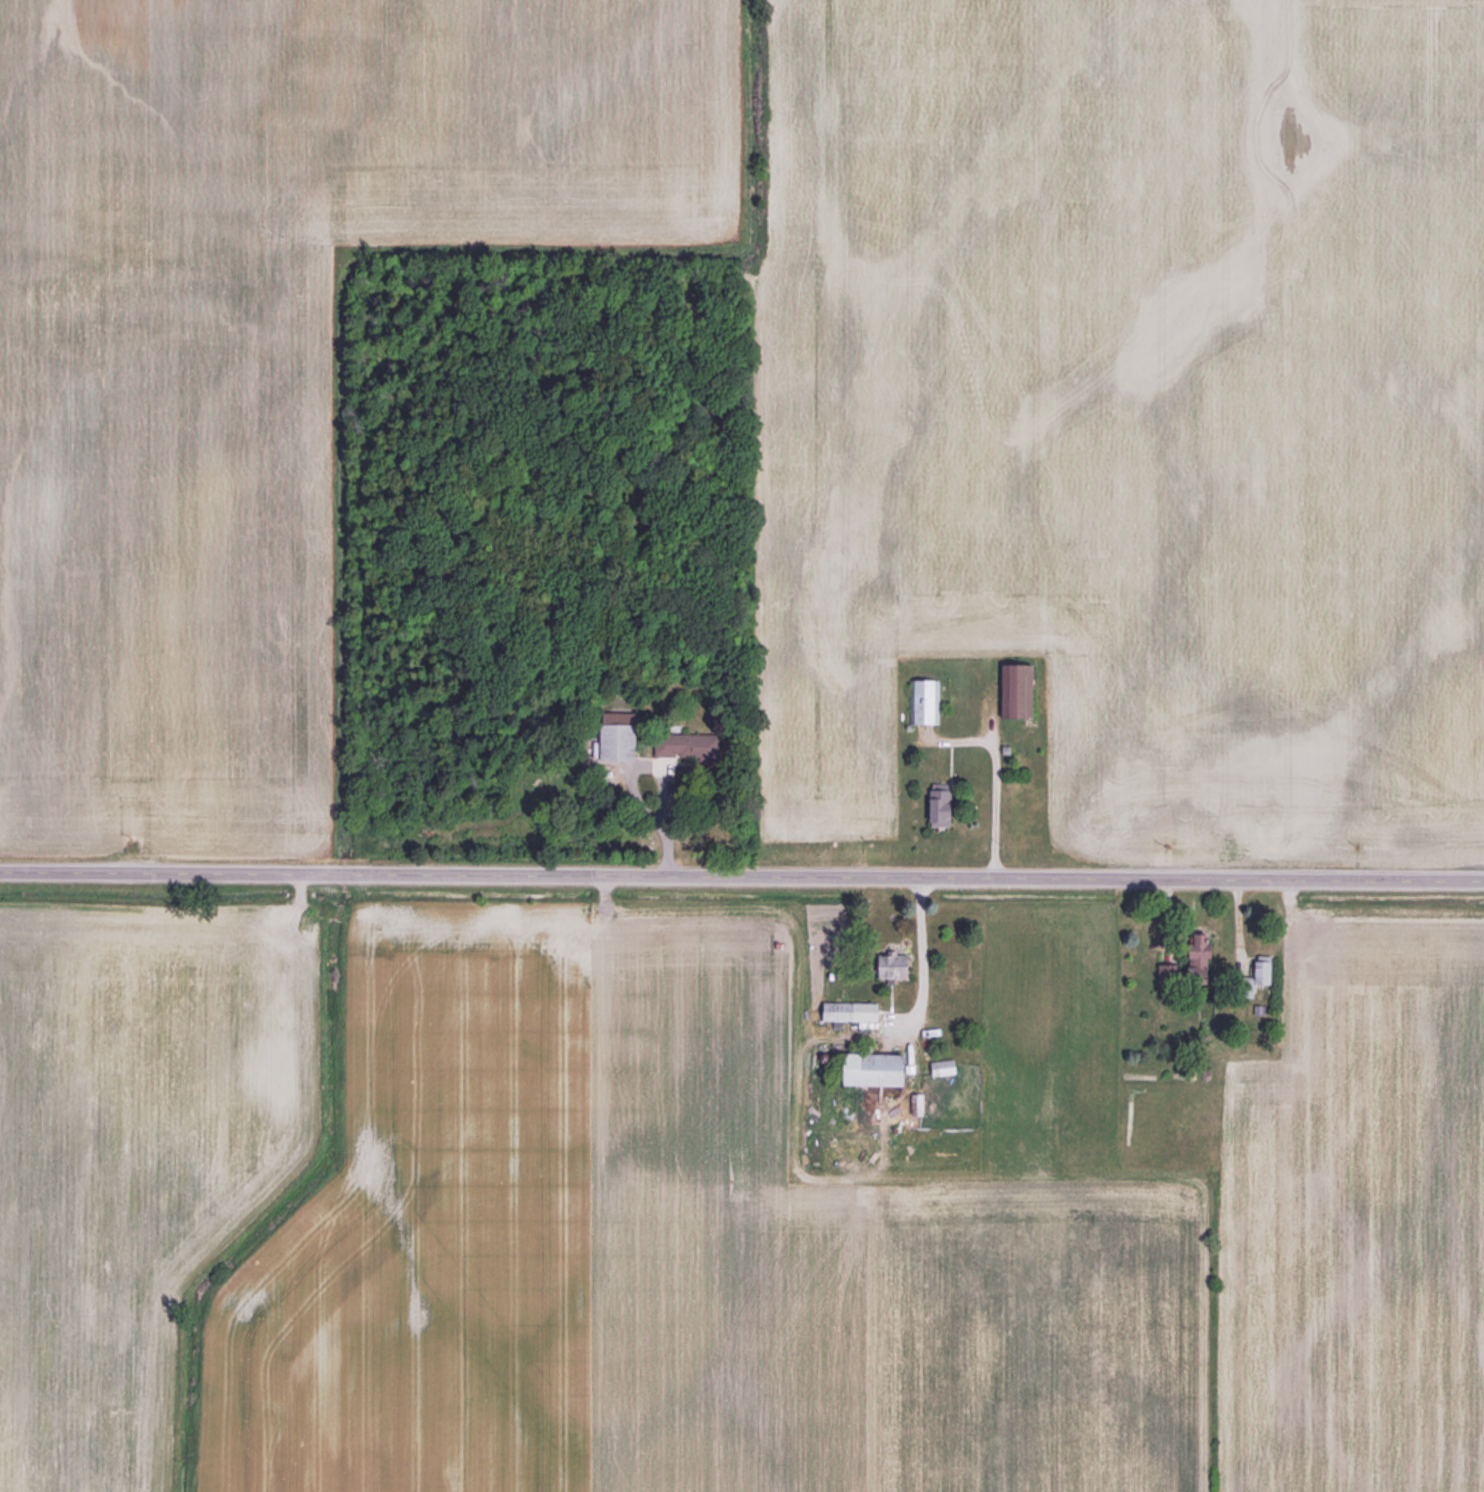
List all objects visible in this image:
building: (1011, 690)
building: (923, 701)
building: (626, 742)
road: (657, 777)
building: (935, 807)
road: (994, 819)
road: (741, 878)
building: (1194, 951)
road: (922, 958)
building: (886, 964)
building: (1253, 976)
building: (845, 1011)
building: (864, 1068)

